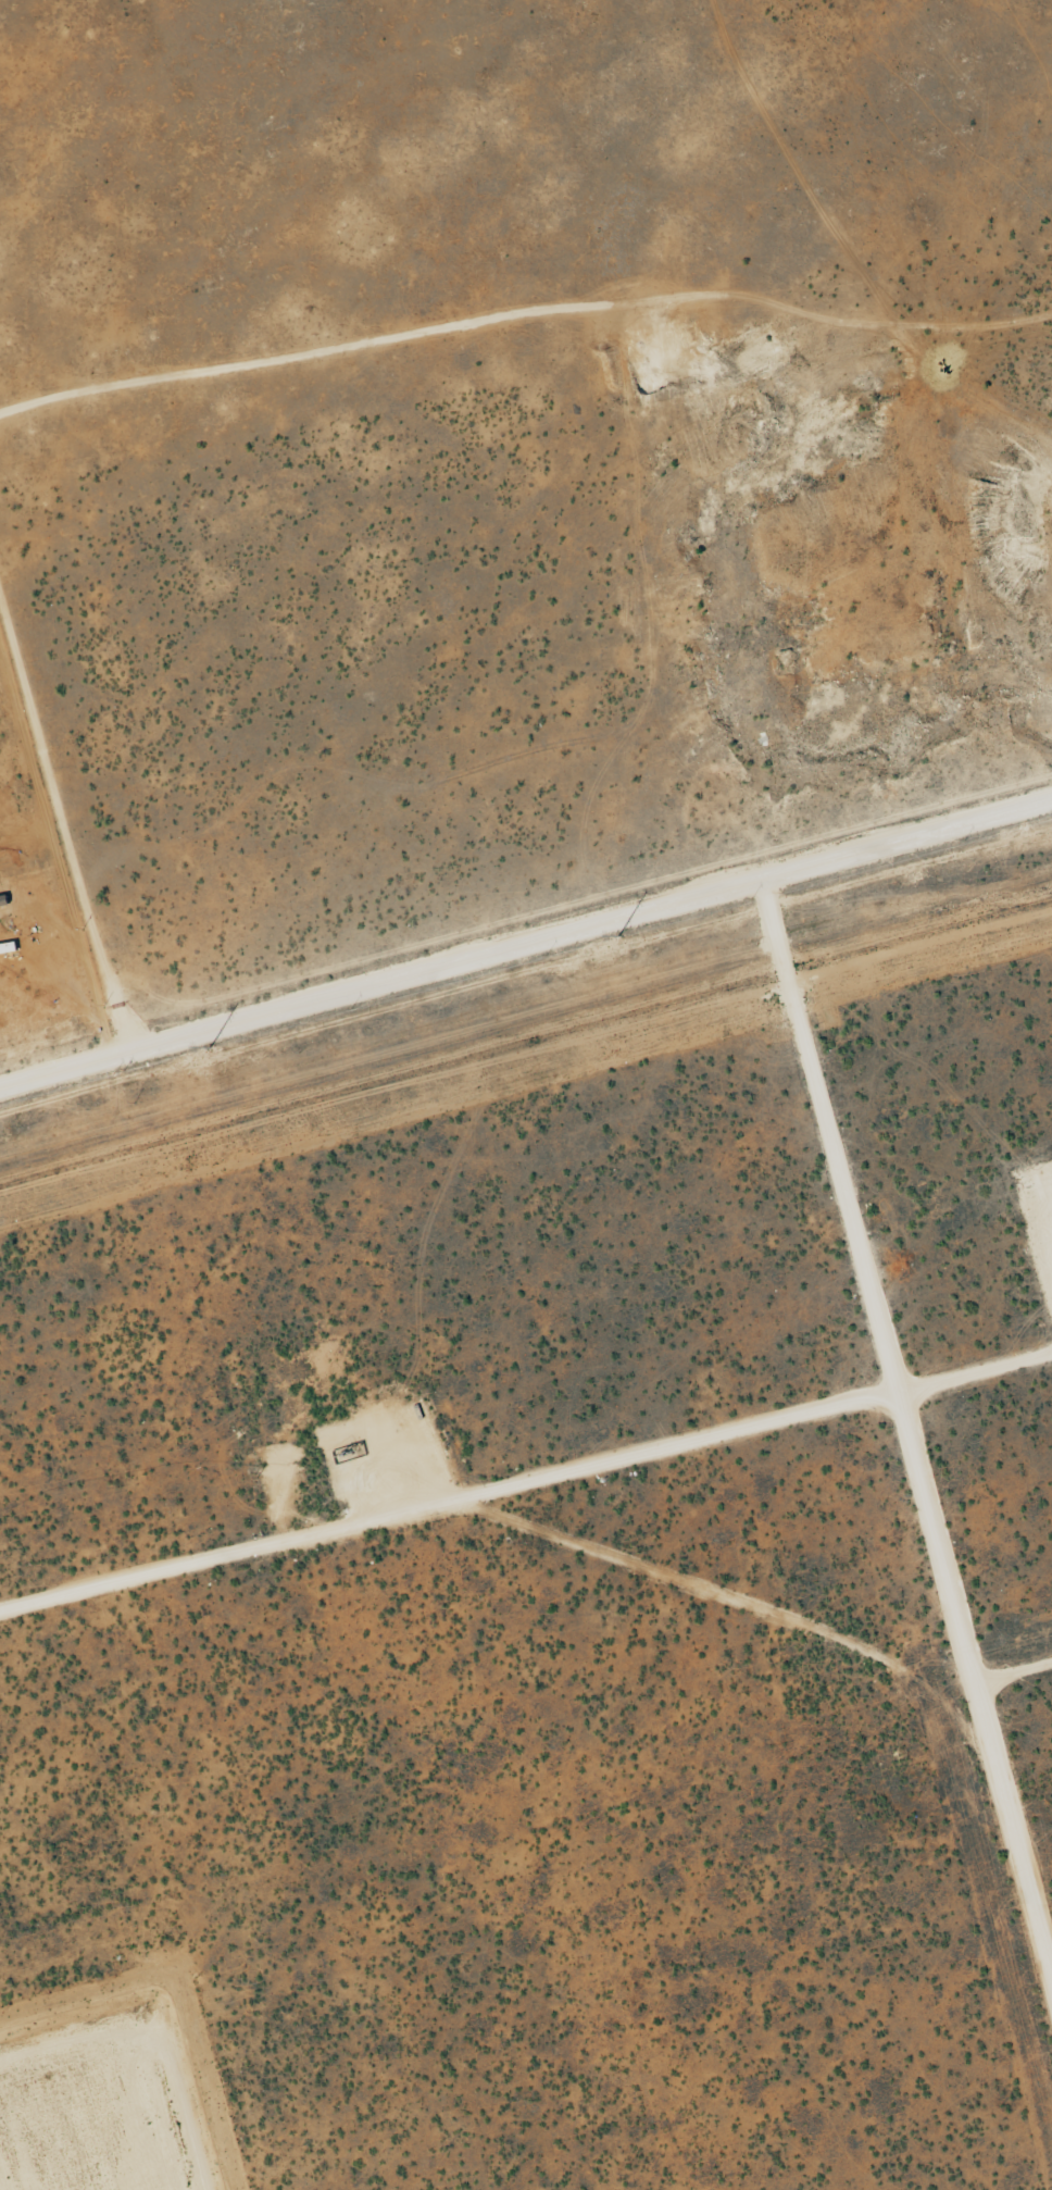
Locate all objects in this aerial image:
power tower: (1020, 825)
road: (525, 935)
power tower: (612, 937)
power tower: (202, 1049)
road: (903, 1417)
road: (448, 1504)
road: (1014, 1673)

